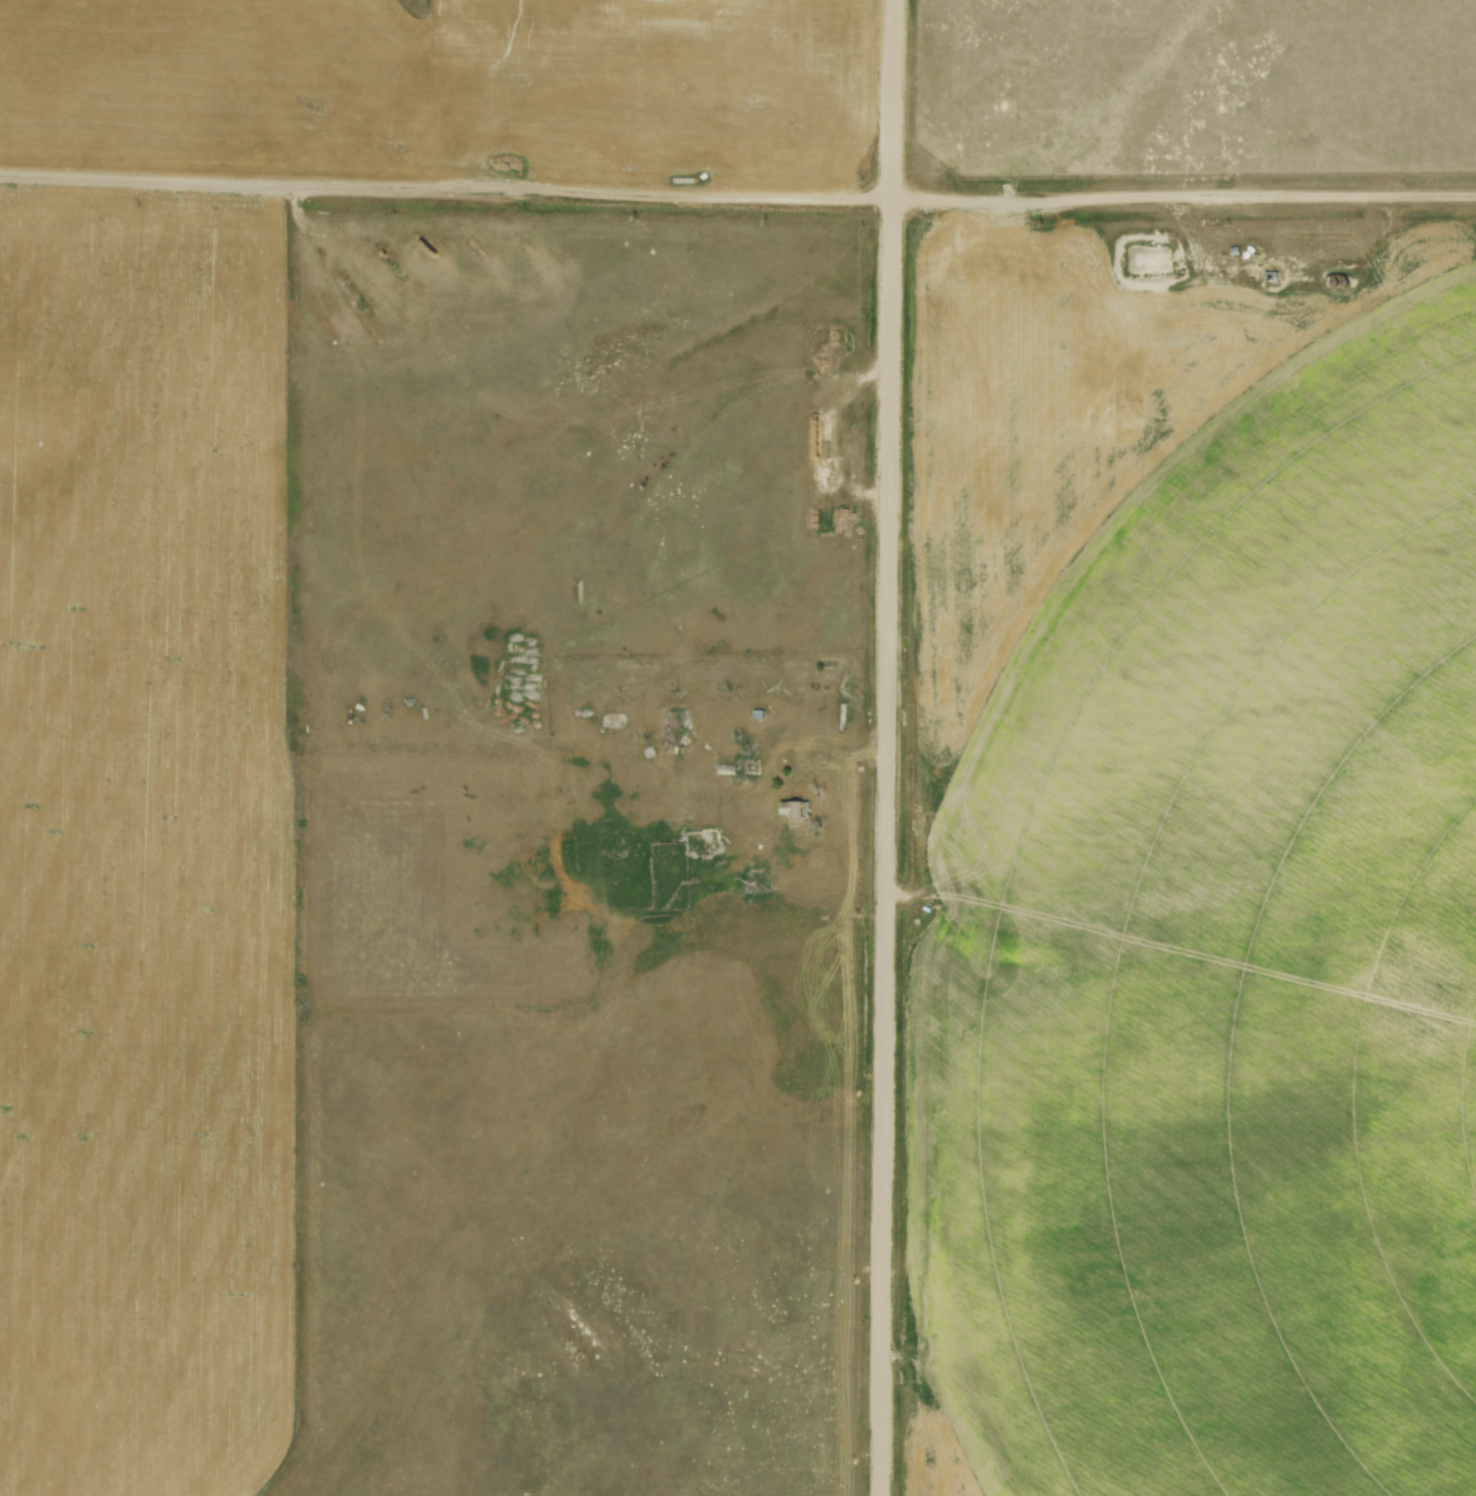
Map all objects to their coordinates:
road: (737, 198)
building: (1254, 257)
storage tank: (1254, 257)
building: (1280, 278)
storage tank: (1280, 278)
building: (1339, 284)
storage tank: (1339, 284)
building: (1351, 285)
storage tank: (1351, 285)
road: (1279, 291)
petroleum well: (1123, 417)
road: (832, 437)
building: (825, 507)
building: (614, 719)
road: (892, 747)
building: (772, 761)
building: (743, 771)
building: (798, 814)
crop: (146, 845)
crop: (1193, 878)

